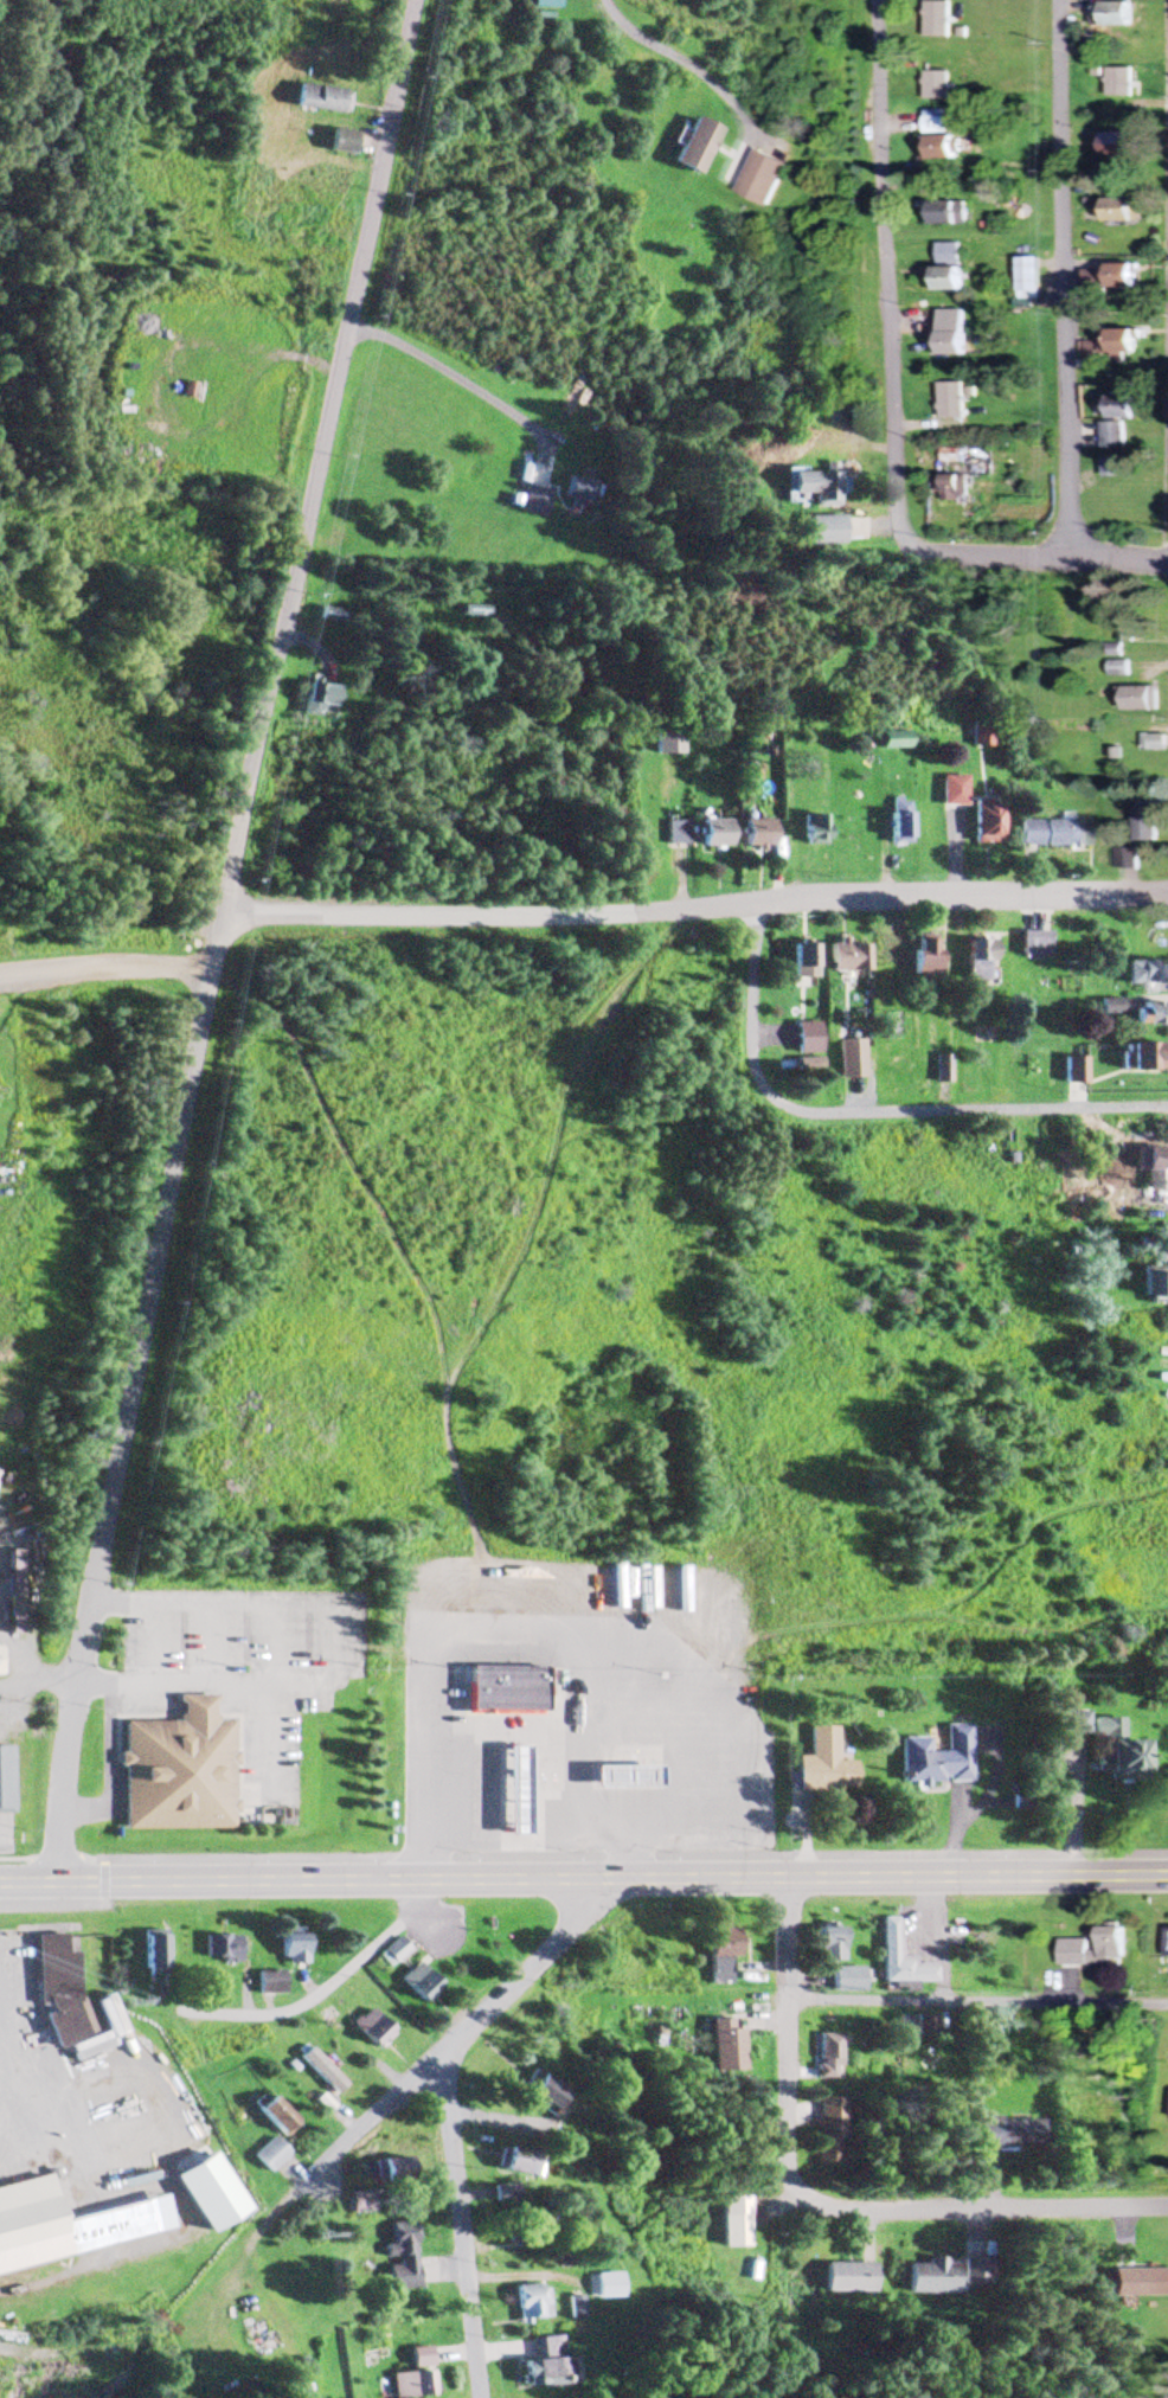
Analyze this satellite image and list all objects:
building: (1116, 15)
building: (941, 20)
building: (1121, 84)
building: (941, 86)
building: (321, 100)
building: (942, 137)
building: (340, 142)
building: (689, 147)
building: (1118, 147)
building: (762, 179)
building: (1122, 212)
building: (949, 214)
building: (949, 269)
road: (885, 276)
building: (1029, 276)
road: (1068, 278)
building: (1121, 278)
building: (949, 333)
building: (1117, 345)
building: (951, 400)
building: (1117, 422)
road: (317, 457)
building: (1112, 468)
building: (813, 485)
building: (951, 488)
building: (577, 490)
building: (537, 499)
building: (822, 528)
road: (1037, 554)
building: (328, 614)
building: (1123, 669)
building: (1142, 698)
building: (321, 701)
building: (974, 733)
building: (665, 740)
building: (886, 740)
building: (1156, 743)
building: (946, 791)
building: (893, 821)
building: (980, 822)
building: (1145, 825)
building: (808, 829)
building: (673, 832)
building: (751, 832)
building: (711, 833)
building: (1046, 834)
building: (1128, 859)
road: (695, 903)
building: (1029, 944)
building: (920, 956)
building: (843, 957)
building: (800, 960)
building: (974, 960)
road: (107, 962)
building: (1142, 973)
building: (1145, 1014)
building: (802, 1037)
building: (1141, 1056)
building: (848, 1058)
building: (941, 1069)
building: (1072, 1070)
road: (866, 1110)
building: (1153, 1165)
building: (1160, 1256)
building: (1147, 1284)
road: (126, 1398)
building: (9, 1592)
building: (702, 1601)
building: (503, 1680)
building: (1105, 1746)
building: (935, 1758)
building: (172, 1762)
building: (821, 1764)
building: (621, 1769)
gas station: (621, 1769)
building: (4, 1781)
building: (511, 1783)
gas station: (511, 1783)
road: (561, 1858)
road: (1142, 1876)
road: (558, 1879)
building: (887, 1938)
building: (1071, 1944)
building: (827, 1945)
building: (288, 1948)
building: (218, 1950)
building: (391, 1951)
building: (715, 1951)
building: (148, 1956)
building: (845, 1980)
building: (265, 1983)
building: (415, 1983)
power tower: (126, 1994)
building: (68, 2005)
building: (922, 2026)
building: (367, 2030)
road: (457, 2032)
road: (779, 2034)
building: (720, 2046)
building: (823, 2057)
building: (316, 2070)
building: (532, 2091)
building: (270, 2116)
building: (824, 2131)
building: (1005, 2134)
building: (265, 2155)
building: (508, 2161)
building: (384, 2172)
road: (977, 2207)
building: (729, 2221)
building: (72, 2225)
building: (509, 2226)
road: (453, 2227)
power tower: (308, 2233)
building: (396, 2257)
building: (969, 2274)
building: (842, 2278)
building: (926, 2278)
building: (1136, 2283)
building: (602, 2288)
building: (524, 2303)
building: (537, 2365)

